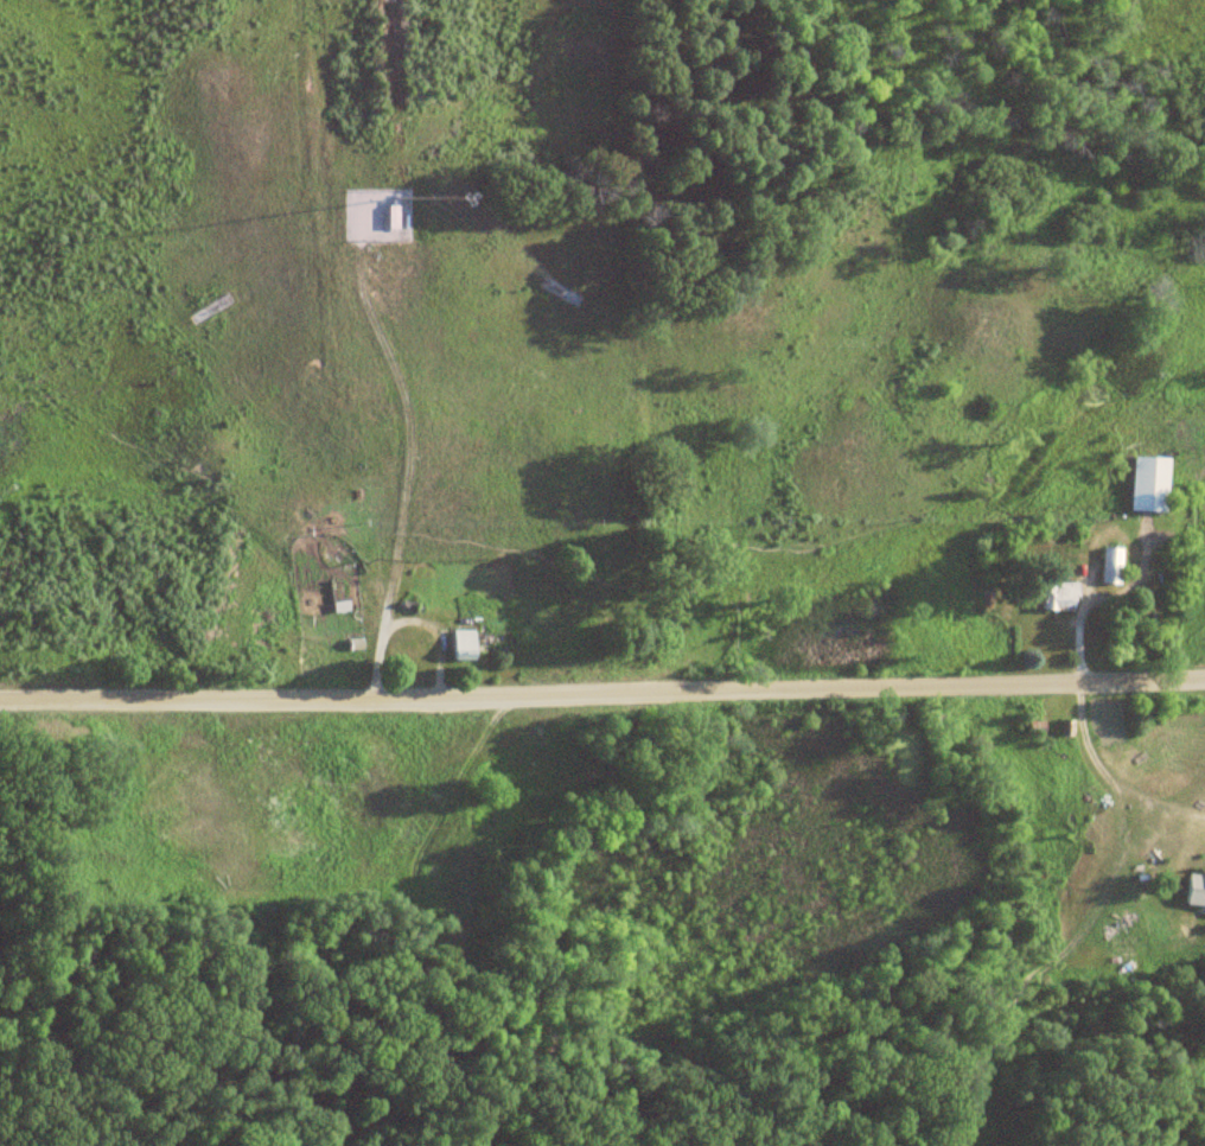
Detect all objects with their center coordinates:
building: (390, 216)
building: (1147, 485)
building: (1109, 566)
building: (1057, 596)
road: (402, 617)
building: (461, 643)
road: (602, 692)
building: (1196, 887)

